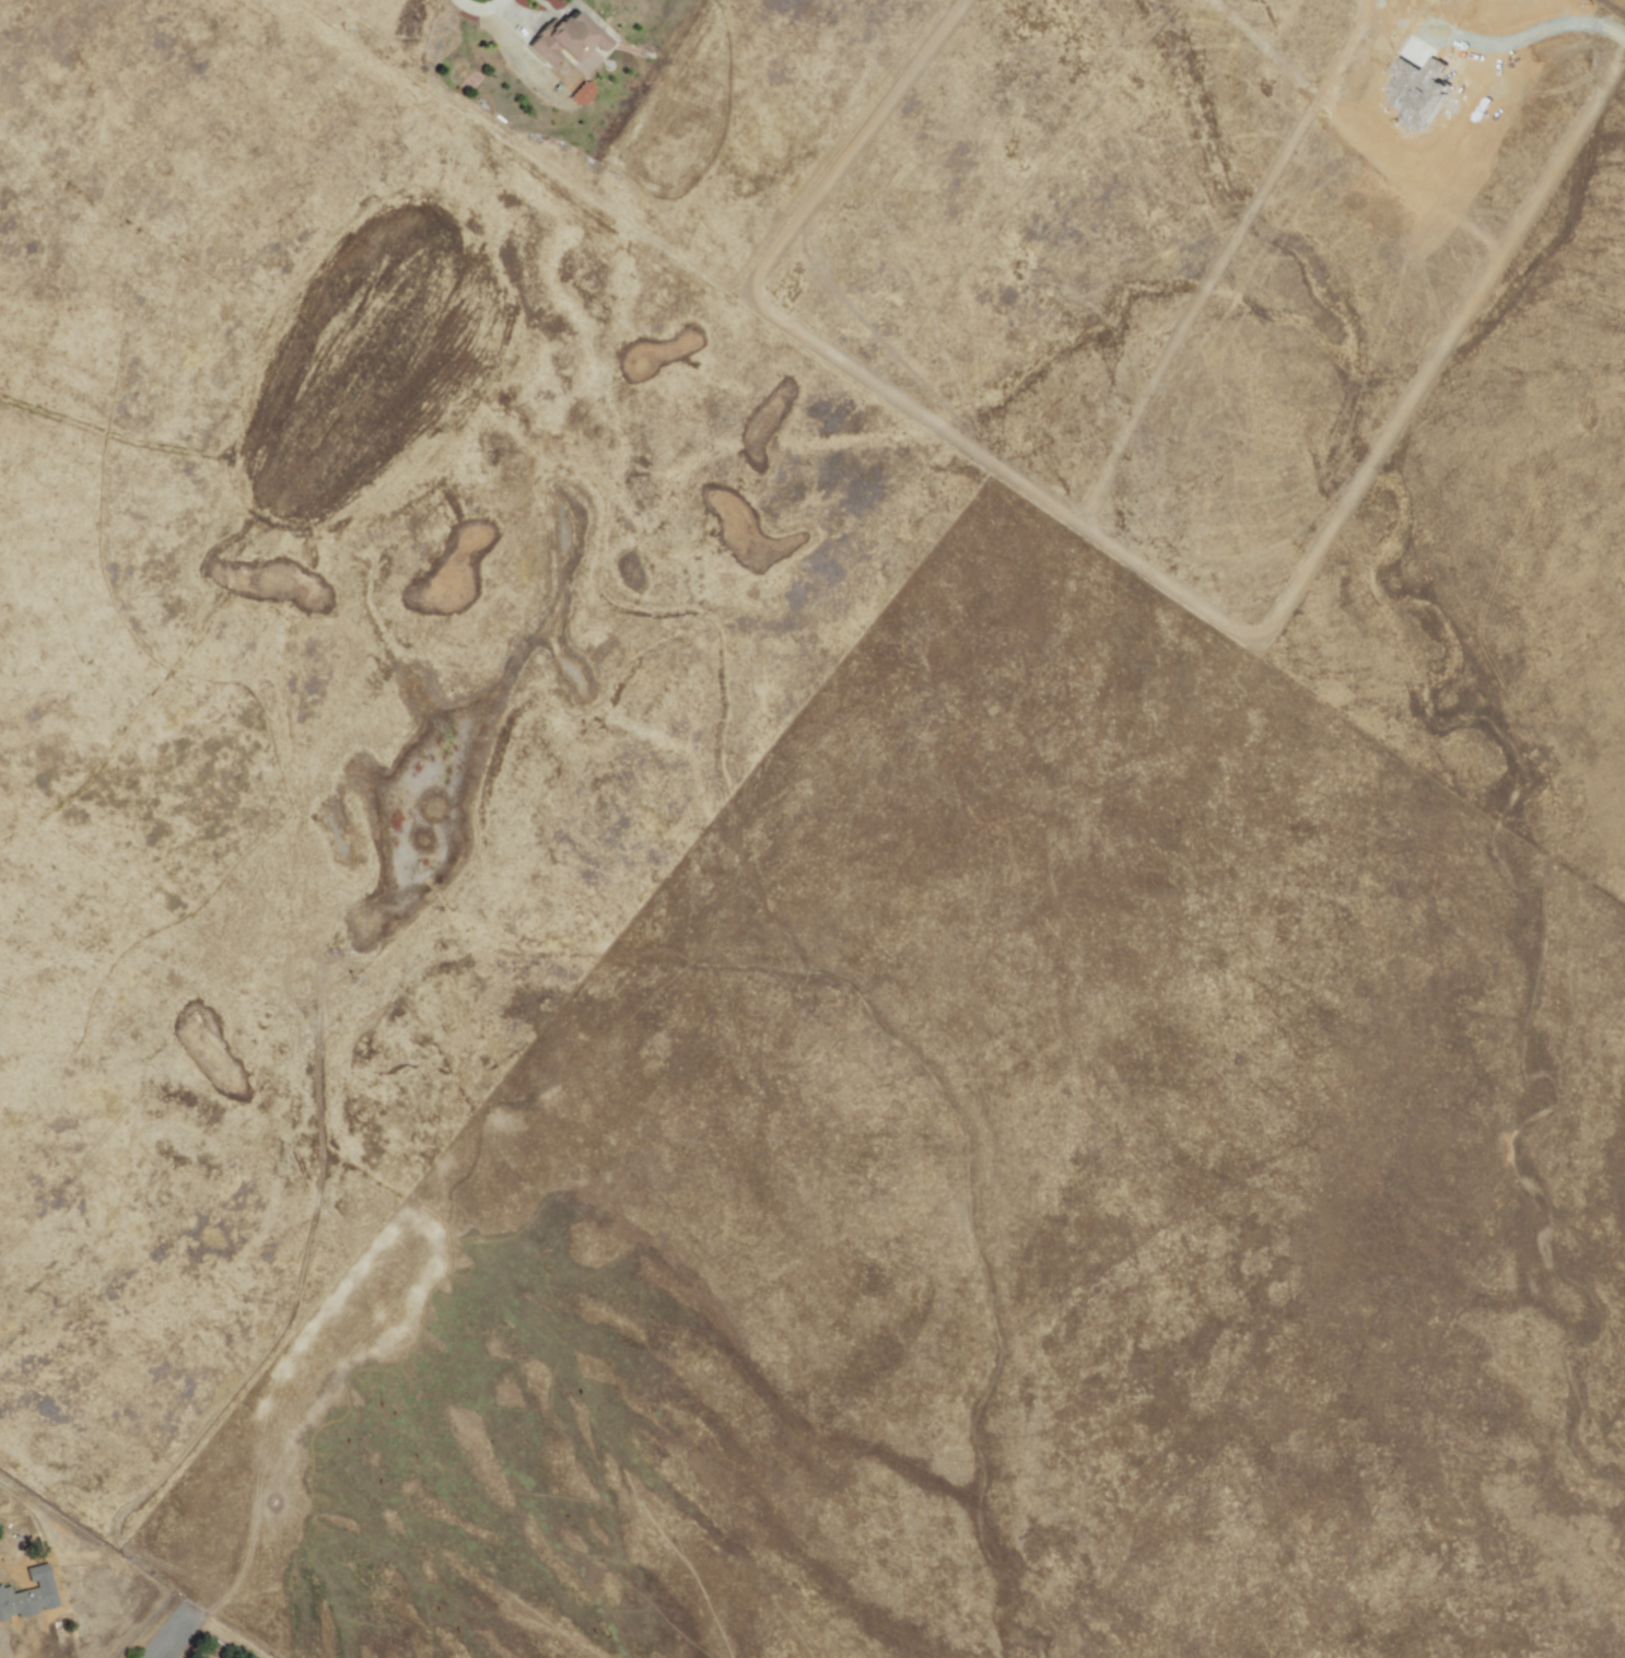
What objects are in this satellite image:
road: (482, 10)
road: (1435, 13)
road: (1401, 30)
building: (564, 39)
road: (1531, 43)
building: (581, 94)
building: (28, 1595)
road: (185, 1633)
road: (0, 1651)

